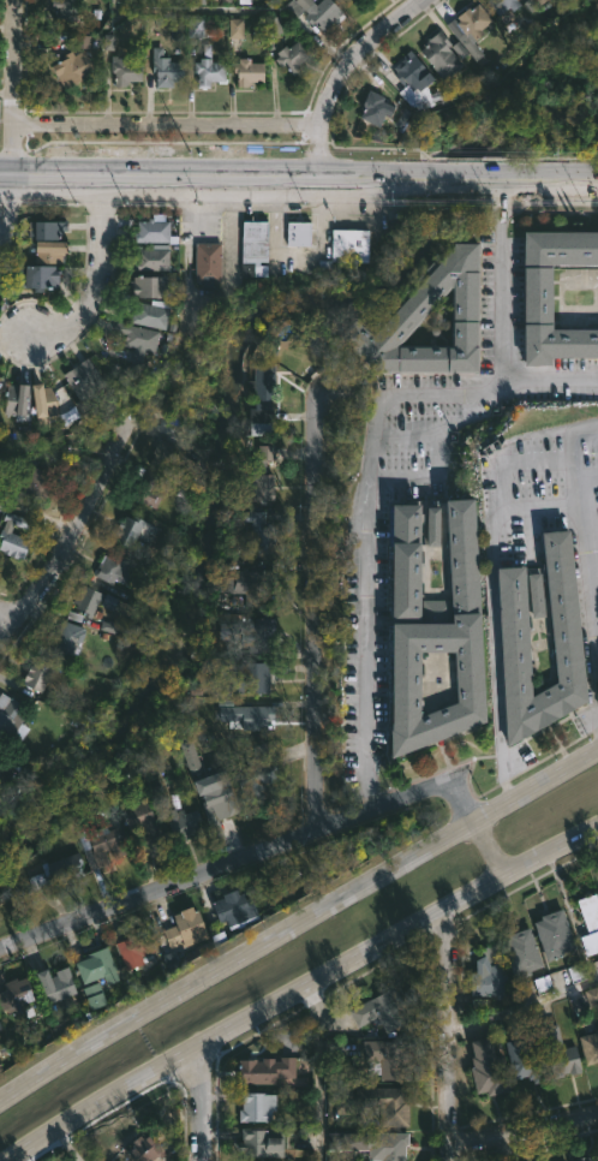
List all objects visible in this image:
building: (502, 5)
road: (197, 12)
building: (311, 12)
building: (473, 22)
building: (199, 28)
building: (438, 54)
building: (291, 58)
building: (71, 70)
building: (208, 70)
building: (165, 71)
building: (124, 72)
building: (246, 72)
road: (340, 73)
building: (414, 83)
road: (18, 88)
building: (373, 108)
road: (169, 121)
road: (298, 180)
road: (11, 204)
building: (44, 228)
building: (153, 232)
building: (297, 233)
road: (2, 236)
building: (348, 245)
building: (252, 246)
building: (48, 250)
building: (150, 257)
building: (207, 261)
road: (95, 273)
building: (36, 275)
building: (145, 285)
building: (536, 297)
building: (408, 308)
building: (150, 314)
road: (498, 331)
building: (138, 344)
building: (0, 376)
building: (82, 379)
building: (261, 385)
building: (14, 399)
building: (42, 399)
building: (173, 459)
building: (259, 472)
building: (26, 482)
building: (144, 482)
road: (42, 516)
building: (430, 524)
building: (126, 529)
building: (258, 532)
building: (12, 536)
road: (365, 540)
road: (79, 542)
building: (401, 559)
road: (585, 561)
building: (109, 573)
building: (246, 584)
building: (534, 595)
building: (91, 600)
road: (492, 609)
road: (311, 617)
road: (7, 621)
building: (564, 625)
building: (249, 631)
building: (67, 637)
building: (439, 643)
building: (36, 674)
building: (249, 677)
building: (255, 718)
building: (11, 719)
building: (191, 758)
building: (0, 764)
building: (255, 773)
building: (216, 800)
building: (180, 822)
building: (143, 824)
building: (97, 844)
road: (490, 849)
road: (244, 859)
building: (54, 871)
building: (233, 909)
building: (588, 923)
road: (297, 927)
building: (181, 930)
building: (552, 934)
building: (132, 951)
building: (521, 952)
building: (95, 966)
building: (485, 978)
building: (558, 980)
building: (52, 983)
road: (304, 989)
building: (13, 994)
road: (521, 1006)
building: (379, 1013)
road: (445, 1037)
building: (588, 1048)
building: (557, 1052)
building: (385, 1059)
building: (524, 1061)
building: (486, 1068)
building: (265, 1071)
road: (317, 1072)
building: (384, 1103)
building: (255, 1107)
road: (202, 1108)
road: (522, 1127)
building: (256, 1143)
building: (371, 1144)
building: (144, 1149)
building: (588, 1159)

